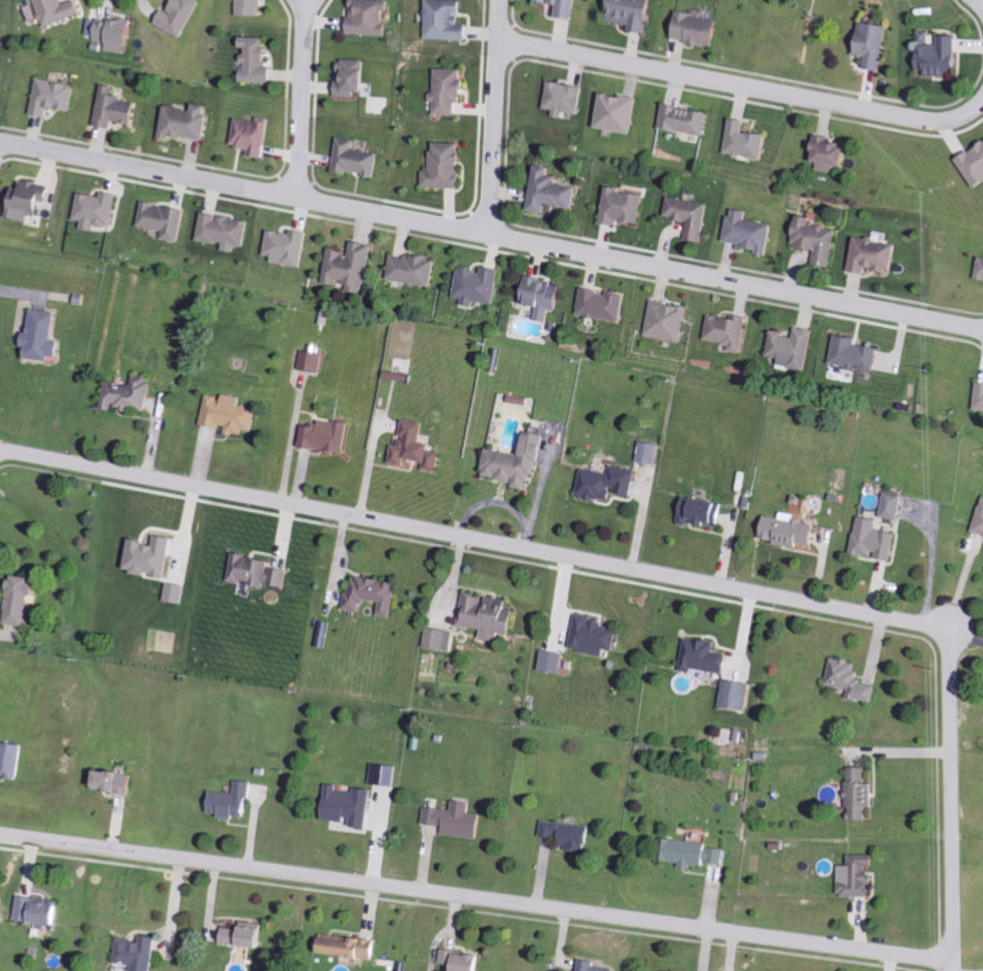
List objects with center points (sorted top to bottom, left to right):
building: (253, 7)
building: (569, 8)
building: (58, 10)
building: (634, 13)
building: (181, 16)
building: (372, 17)
building: (449, 20)
building: (699, 29)
building: (115, 33)
building: (873, 44)
building: (940, 54)
building: (259, 61)
building: (355, 77)
road: (743, 85)
building: (451, 91)
building: (54, 96)
building: (566, 98)
road: (302, 99)
building: (116, 109)
building: (619, 113)
road: (496, 116)
building: (688, 120)
building: (187, 122)
building: (255, 136)
building: (748, 141)
road: (18, 146)
building: (833, 154)
building: (358, 159)
building: (974, 166)
building: (447, 167)
building: (554, 191)
building: (31, 201)
building: (625, 207)
building: (98, 210)
building: (693, 216)
building: (165, 220)
building: (225, 231)
building: (752, 232)
road: (510, 235)
building: (820, 240)
building: (288, 247)
building: (877, 256)
building: (351, 267)
building: (414, 270)
building: (982, 273)
building: (479, 285)
building: (544, 297)
building: (604, 305)
building: (669, 321)
building: (730, 332)
building: (45, 336)
building: (858, 354)
building: (313, 361)
building: (132, 394)
building: (981, 398)
building: (233, 414)
building: (328, 436)
building: (417, 448)
building: (651, 453)
building: (517, 463)
building: (609, 484)
building: (895, 506)
building: (703, 512)
building: (981, 526)
building: (791, 532)
road: (477, 539)
building: (876, 540)
building: (155, 557)
building: (259, 572)
building: (374, 594)
building: (22, 601)
building: (489, 616)
building: (597, 637)
road: (967, 637)
building: (440, 639)
building: (706, 657)
building: (554, 662)
building: (855, 681)
building: (740, 695)
building: (11, 759)
building: (385, 775)
building: (119, 782)
building: (862, 794)
road: (954, 797)
building: (233, 802)
building: (351, 806)
building: (457, 820)
building: (569, 835)
building: (697, 854)
building: (860, 876)
road: (477, 899)
building: (42, 911)
building: (248, 936)
building: (352, 947)
building: (140, 953)
building: (465, 961)
building: (593, 966)

